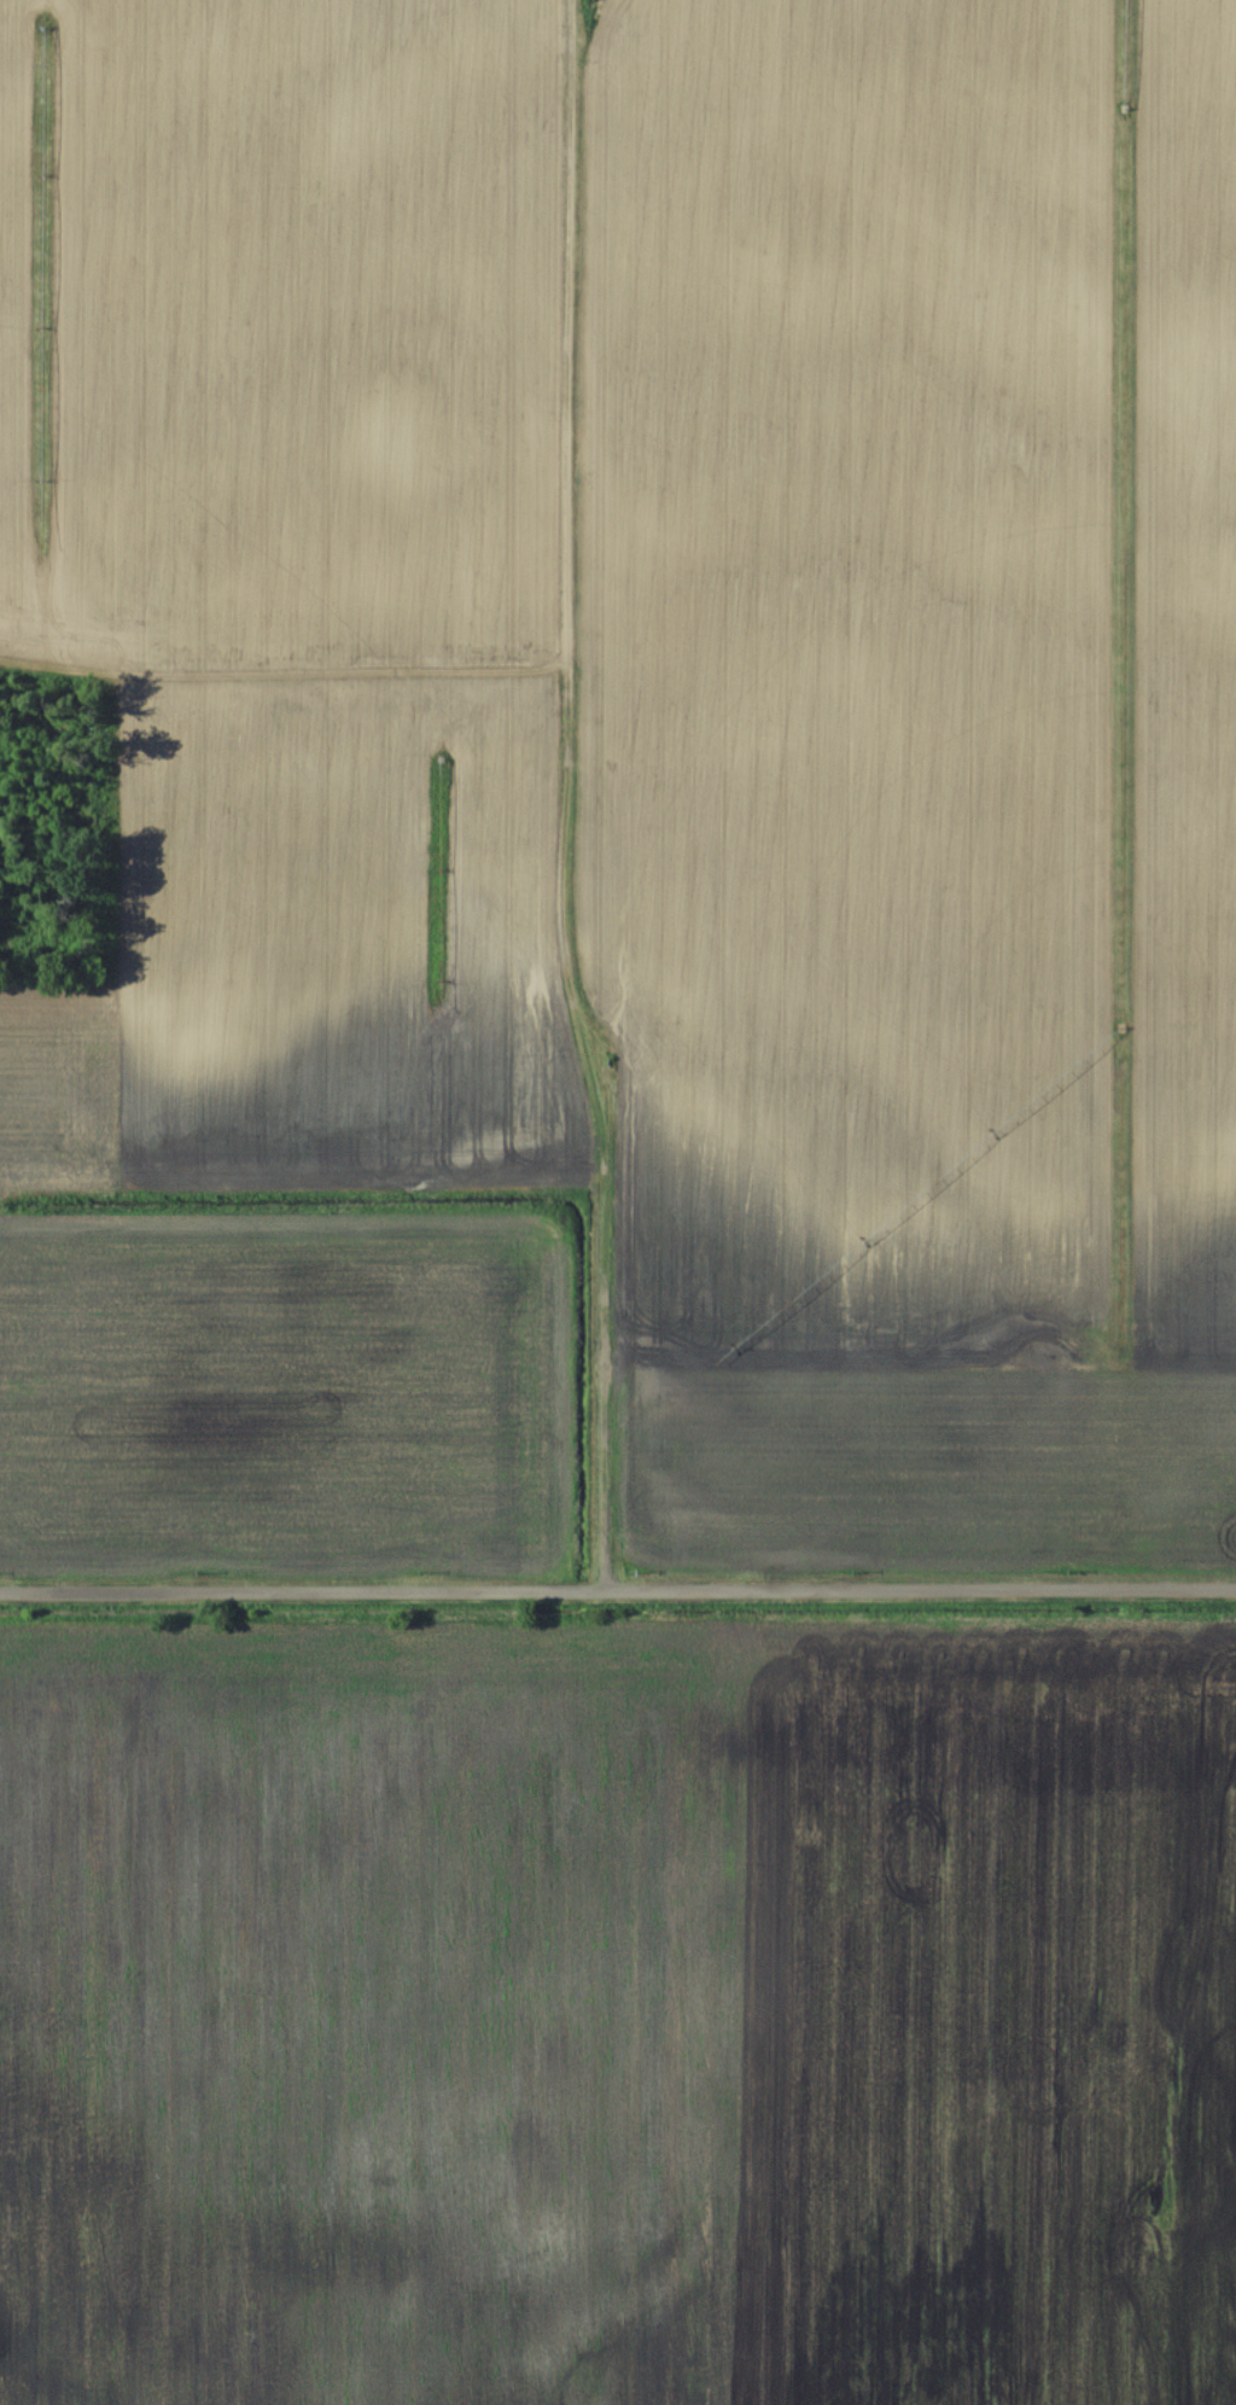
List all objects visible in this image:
road: (617, 1589)

